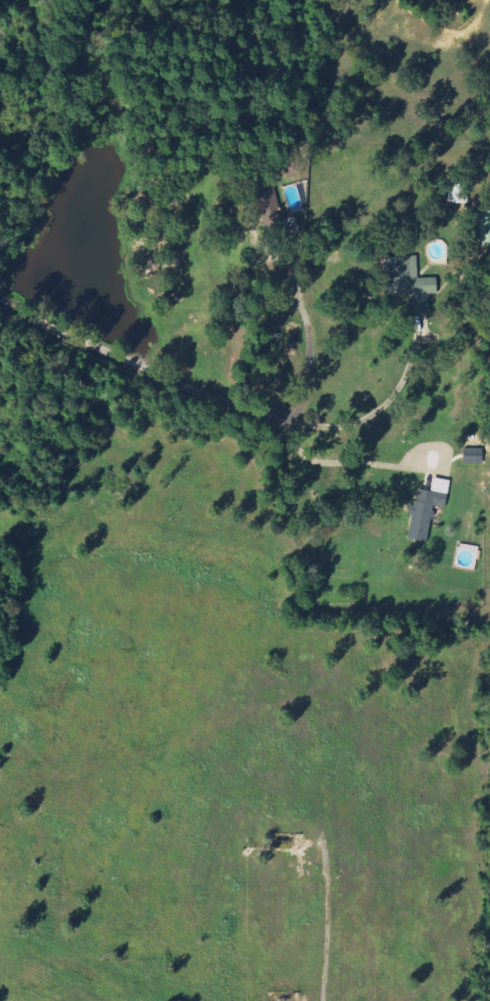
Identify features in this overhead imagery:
building: (464, 194)
building: (486, 224)
building: (415, 283)
road: (311, 346)
road: (216, 397)
building: (475, 456)
building: (430, 508)

